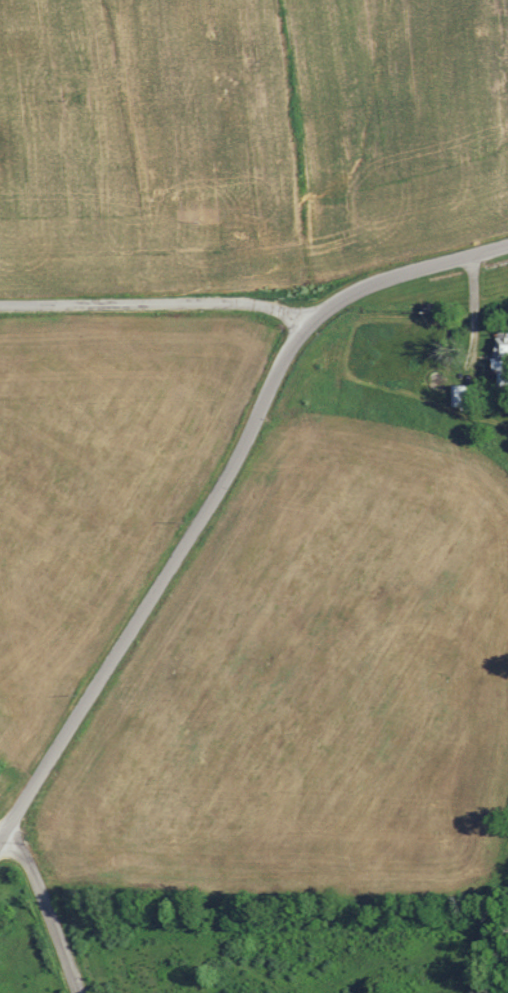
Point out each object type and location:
road: (404, 272)
road: (157, 303)
building: (499, 352)
building: (459, 395)
road: (160, 583)
road: (47, 909)

